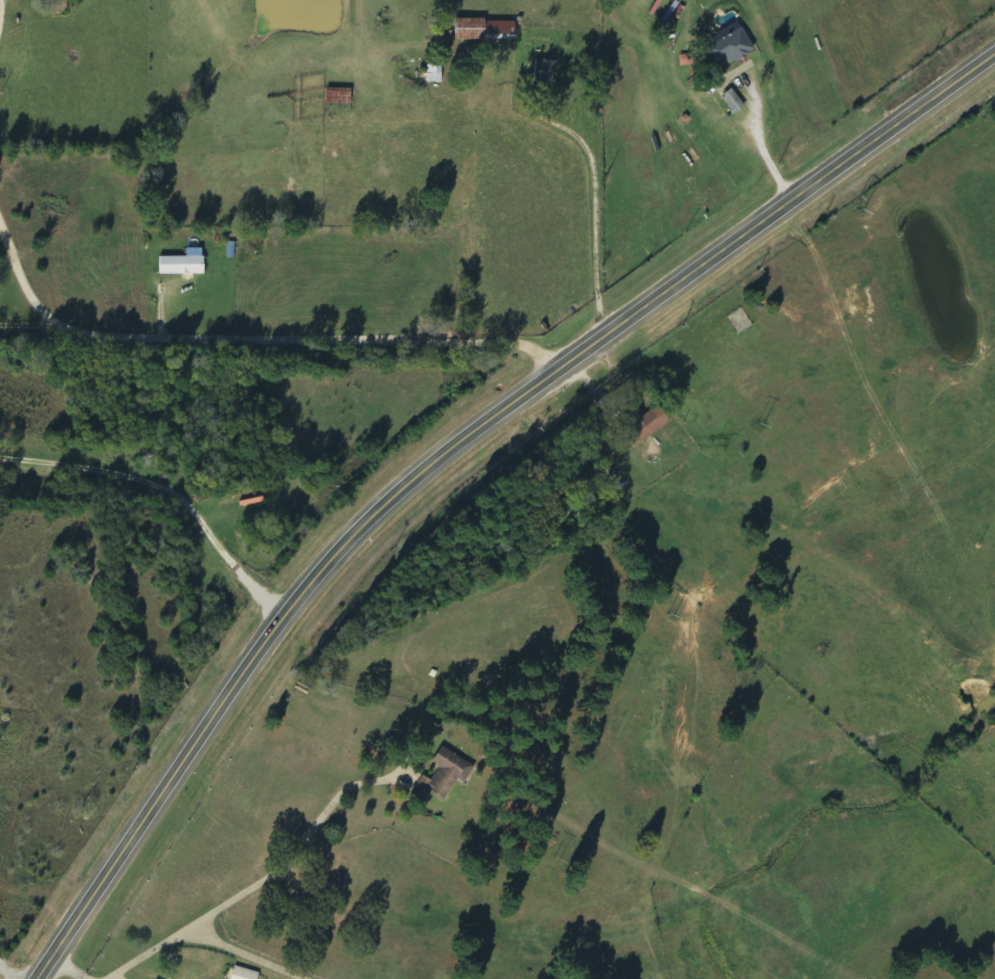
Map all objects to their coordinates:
building: (485, 30)
building: (731, 44)
building: (544, 71)
building: (434, 74)
building: (338, 96)
building: (733, 101)
power tower: (857, 213)
building: (183, 263)
road: (256, 338)
power tower: (758, 423)
building: (647, 426)
road: (448, 449)
power tower: (669, 616)
building: (445, 775)
power tower: (555, 859)

